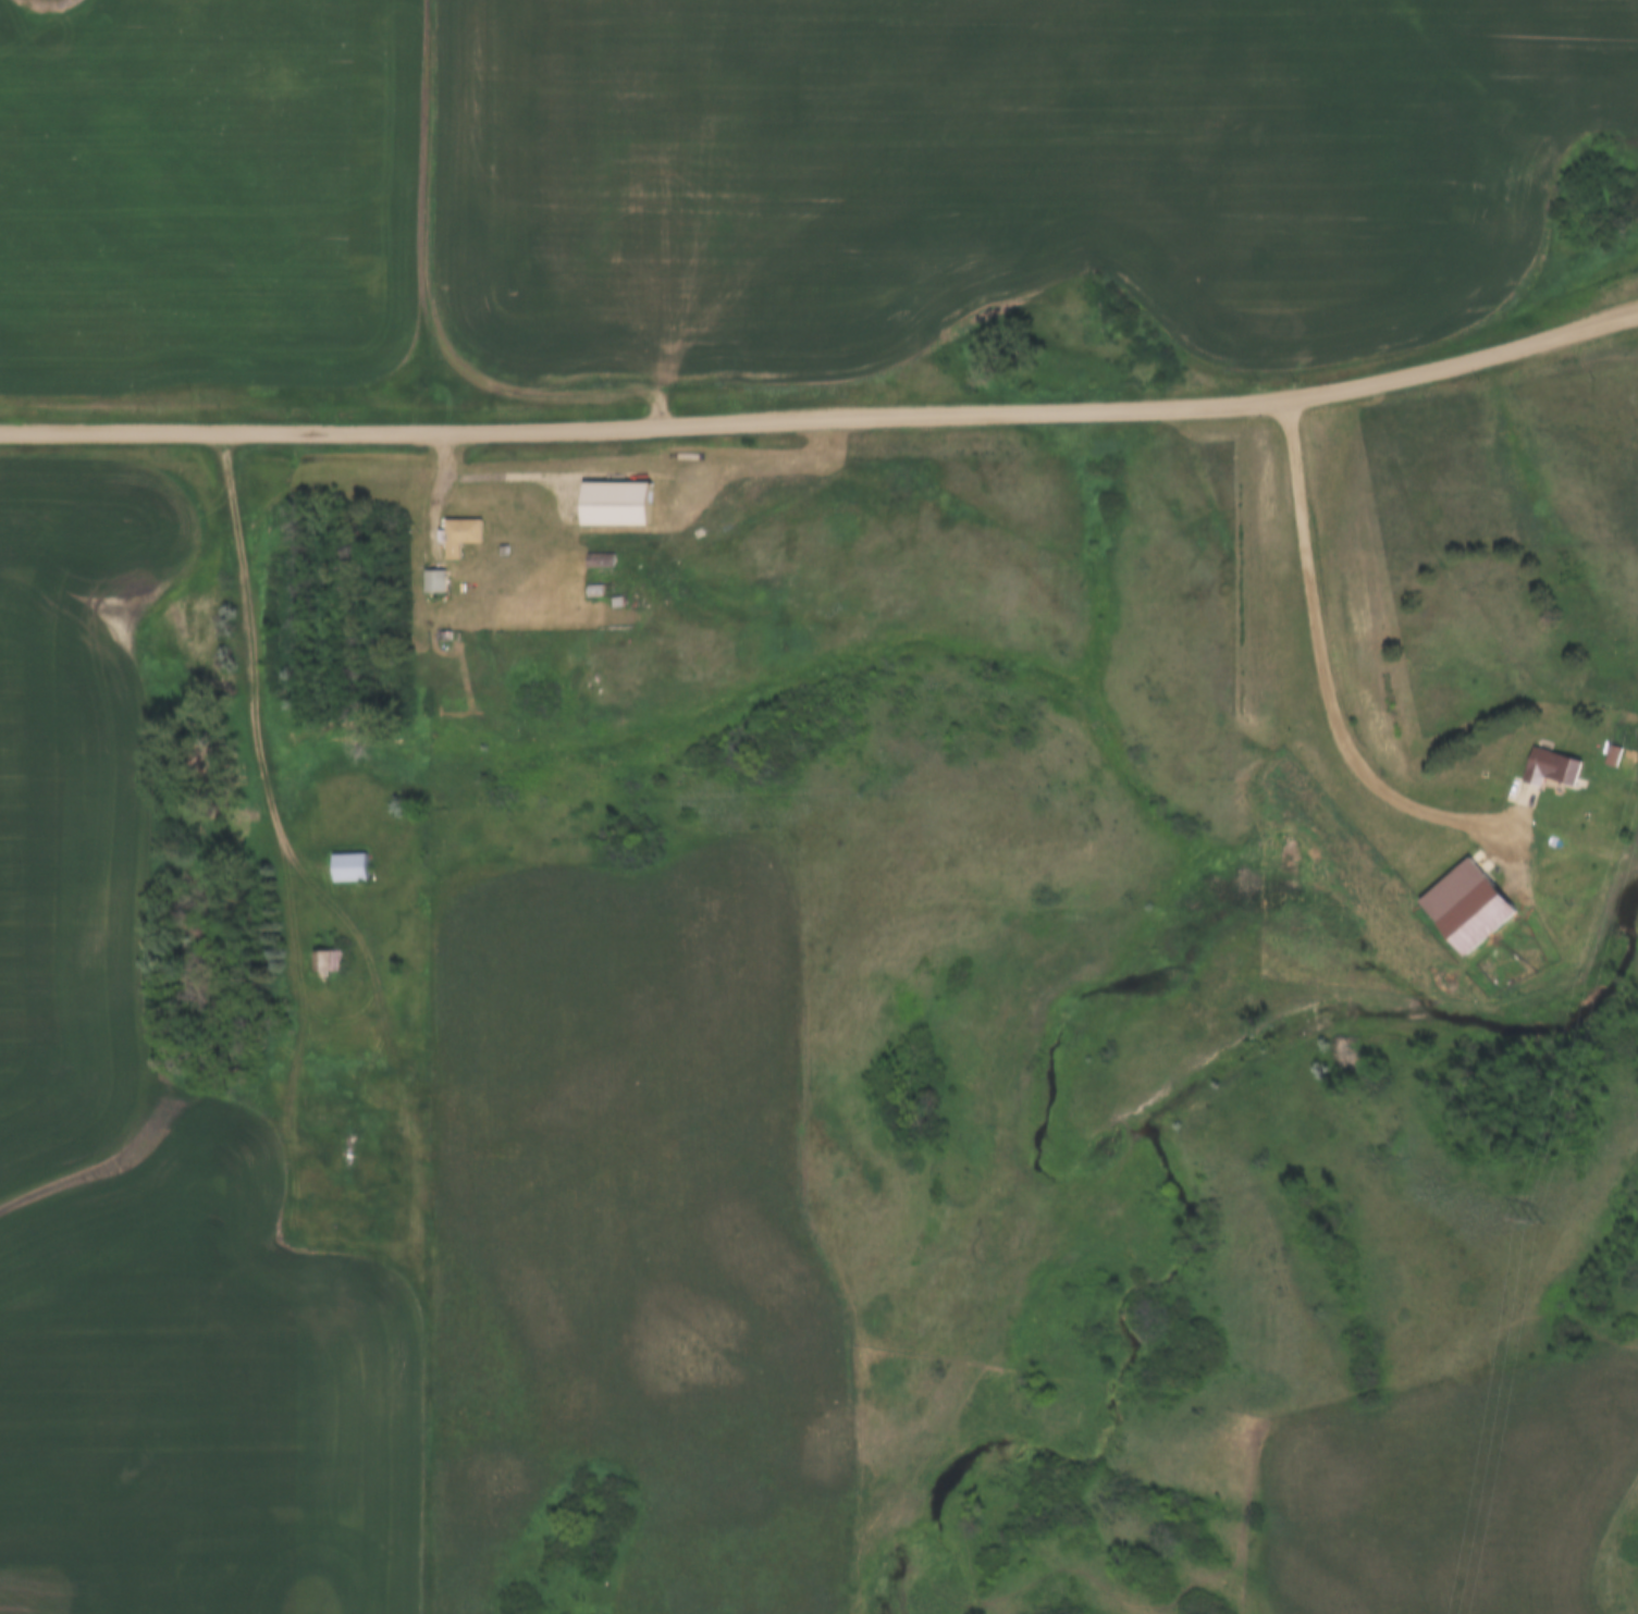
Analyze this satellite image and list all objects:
road: (824, 420)
building: (612, 505)
building: (458, 535)
building: (599, 562)
building: (432, 581)
road: (247, 663)
road: (1320, 687)
building: (1617, 756)
building: (1554, 767)
building: (347, 867)
building: (1467, 905)
building: (327, 961)

